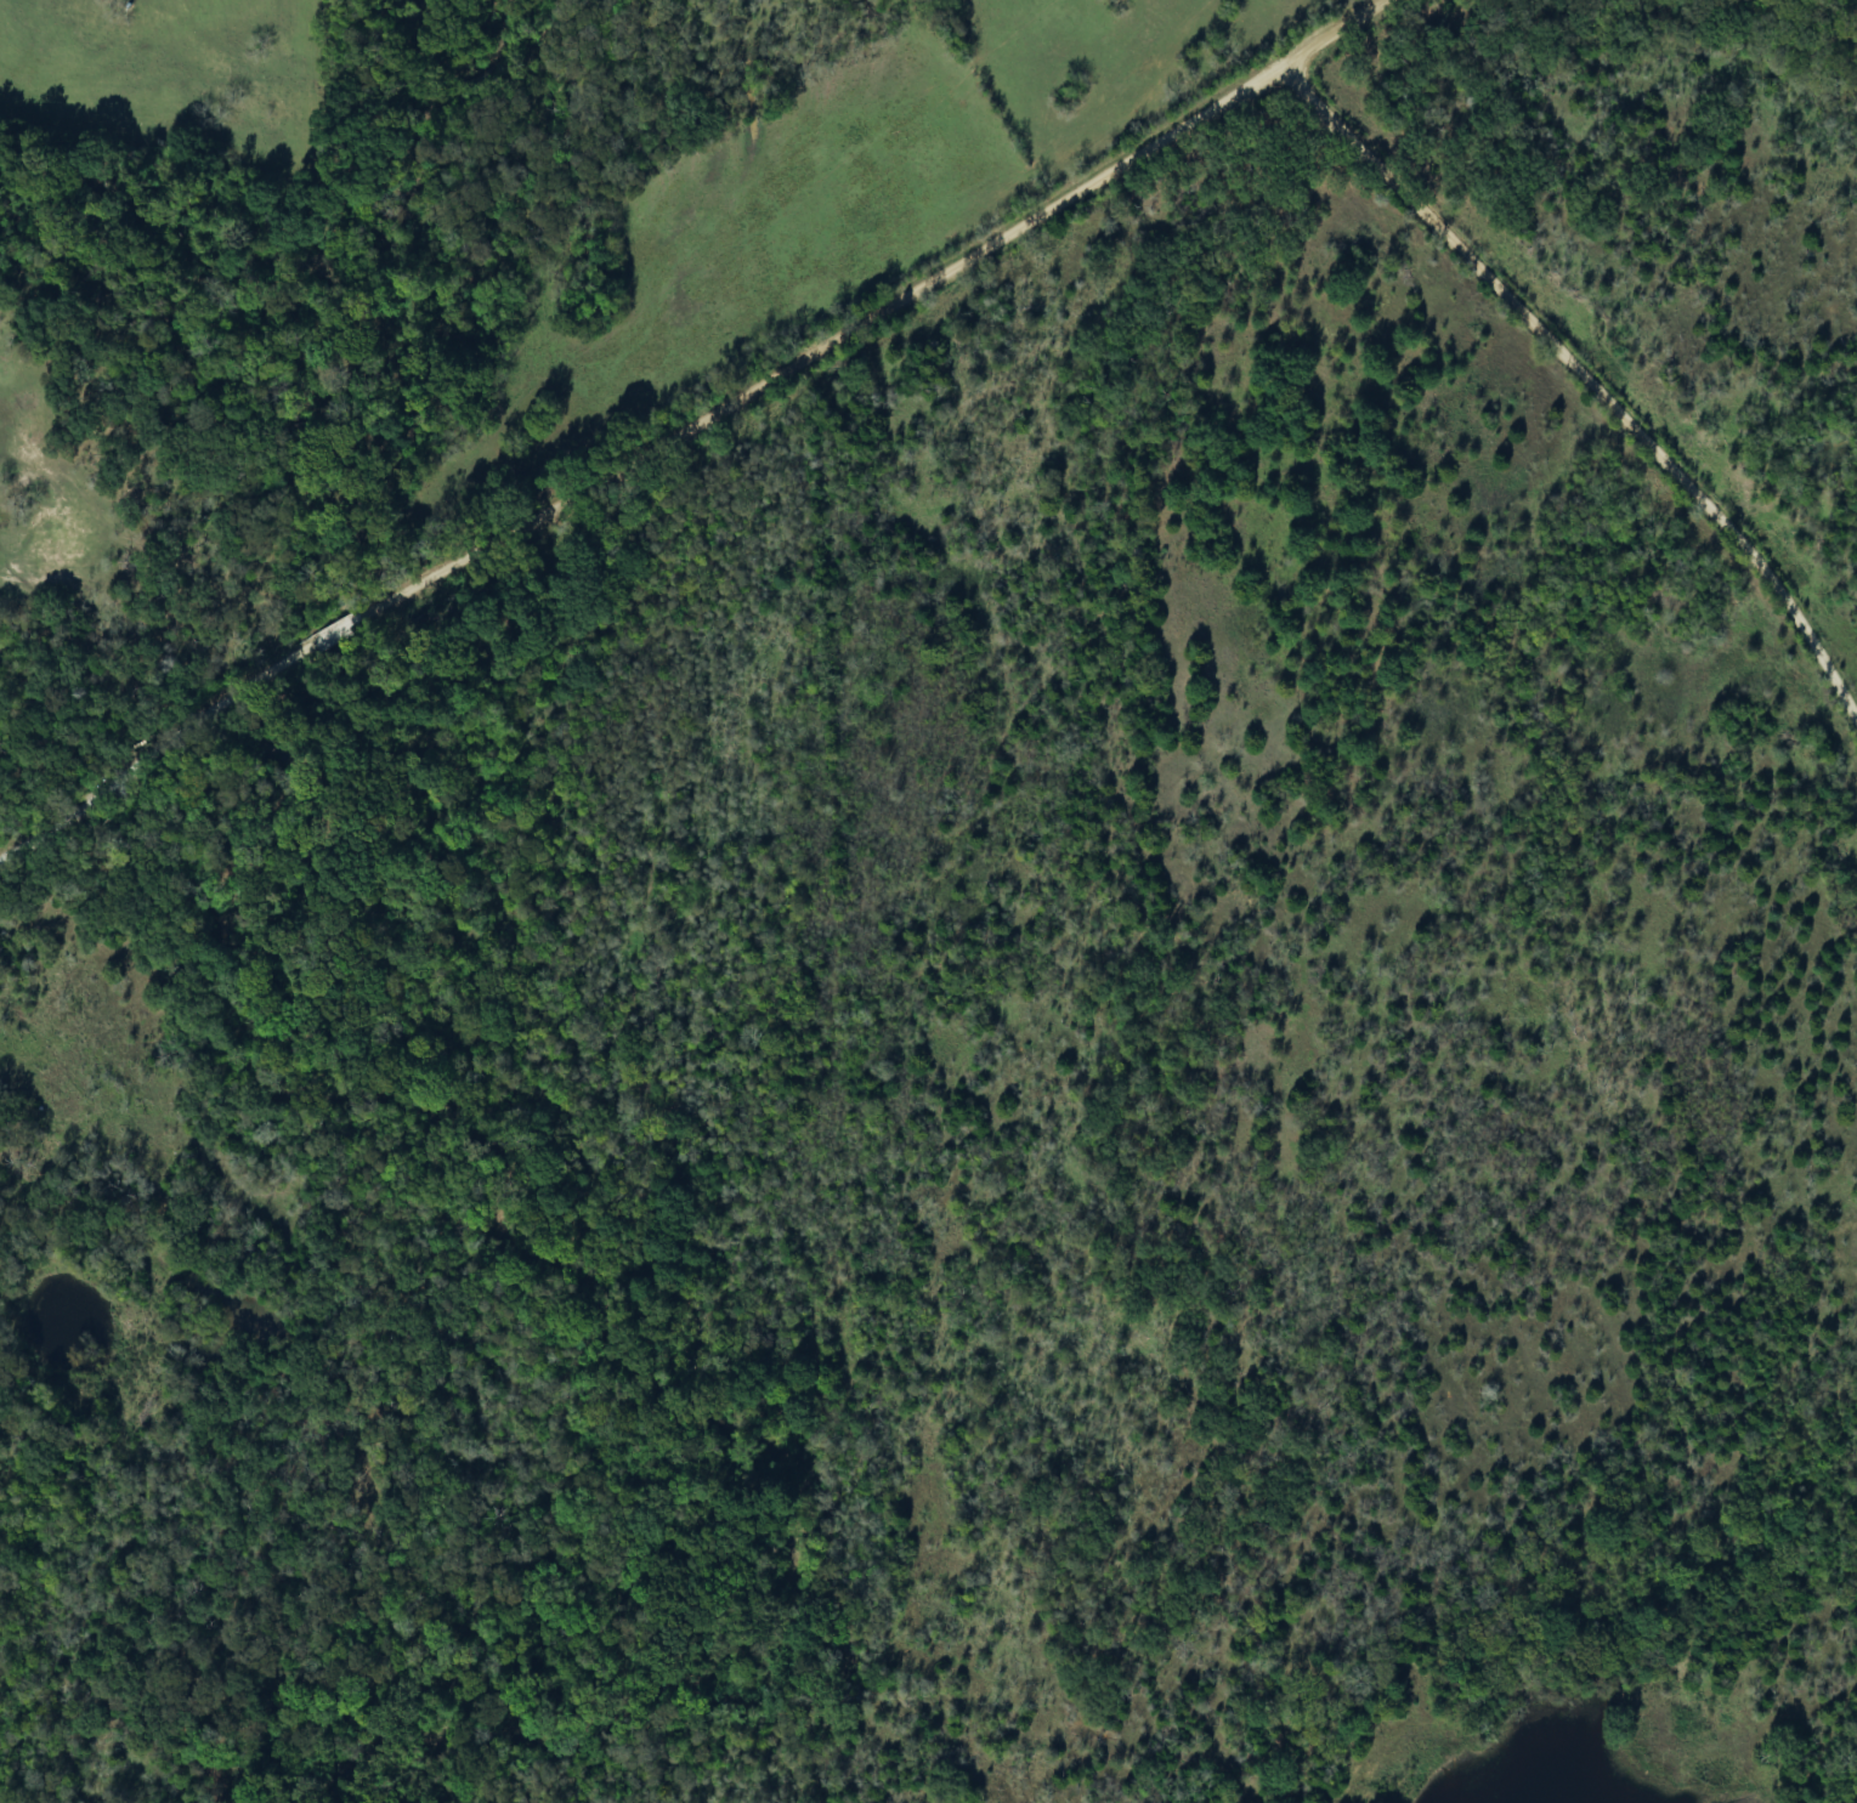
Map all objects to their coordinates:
road: (1335, 36)
road: (998, 244)

